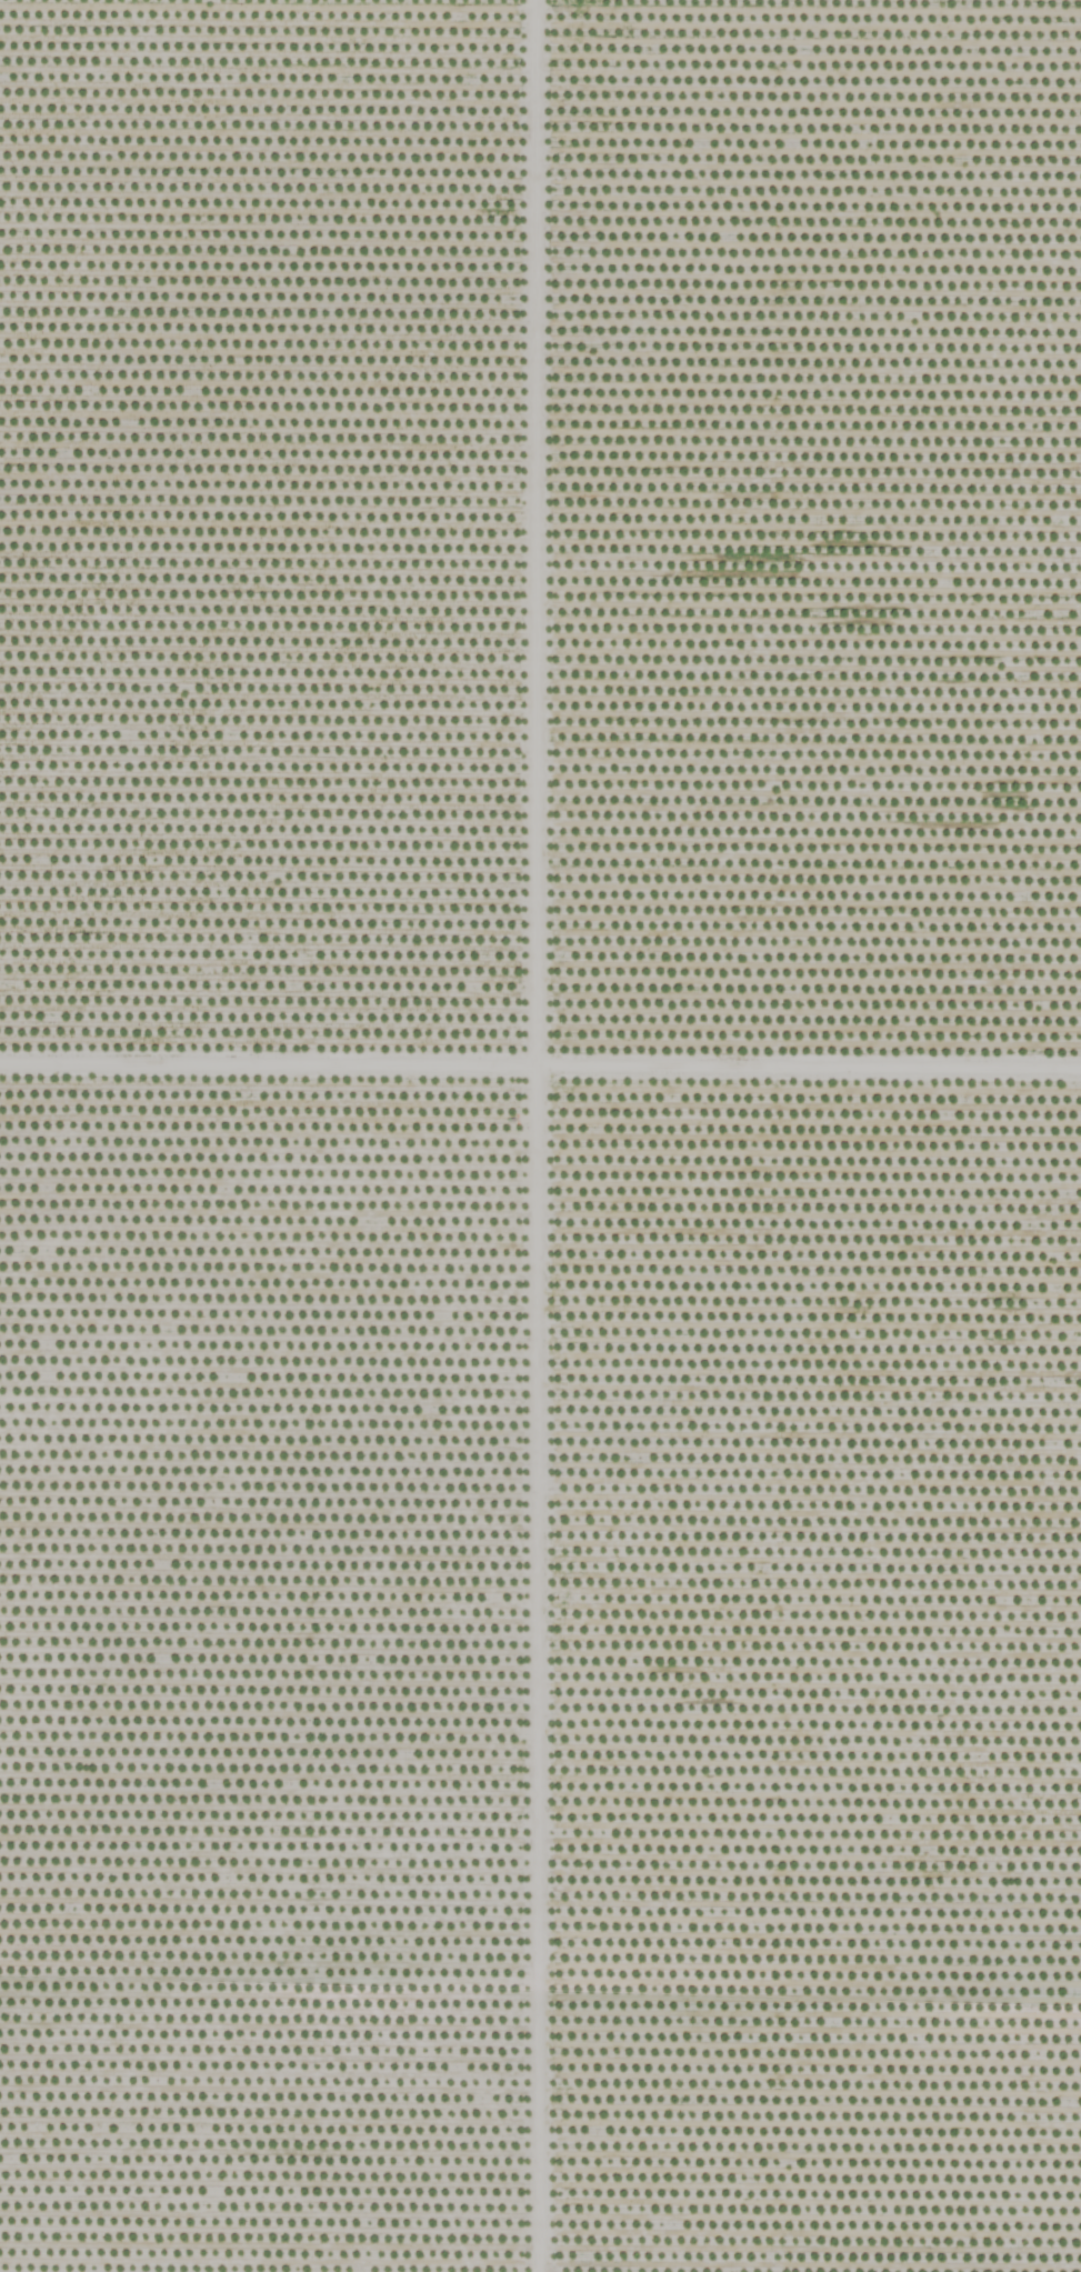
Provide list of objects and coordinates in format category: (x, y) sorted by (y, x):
road: (540, 61)
crop: (540, 1135)

